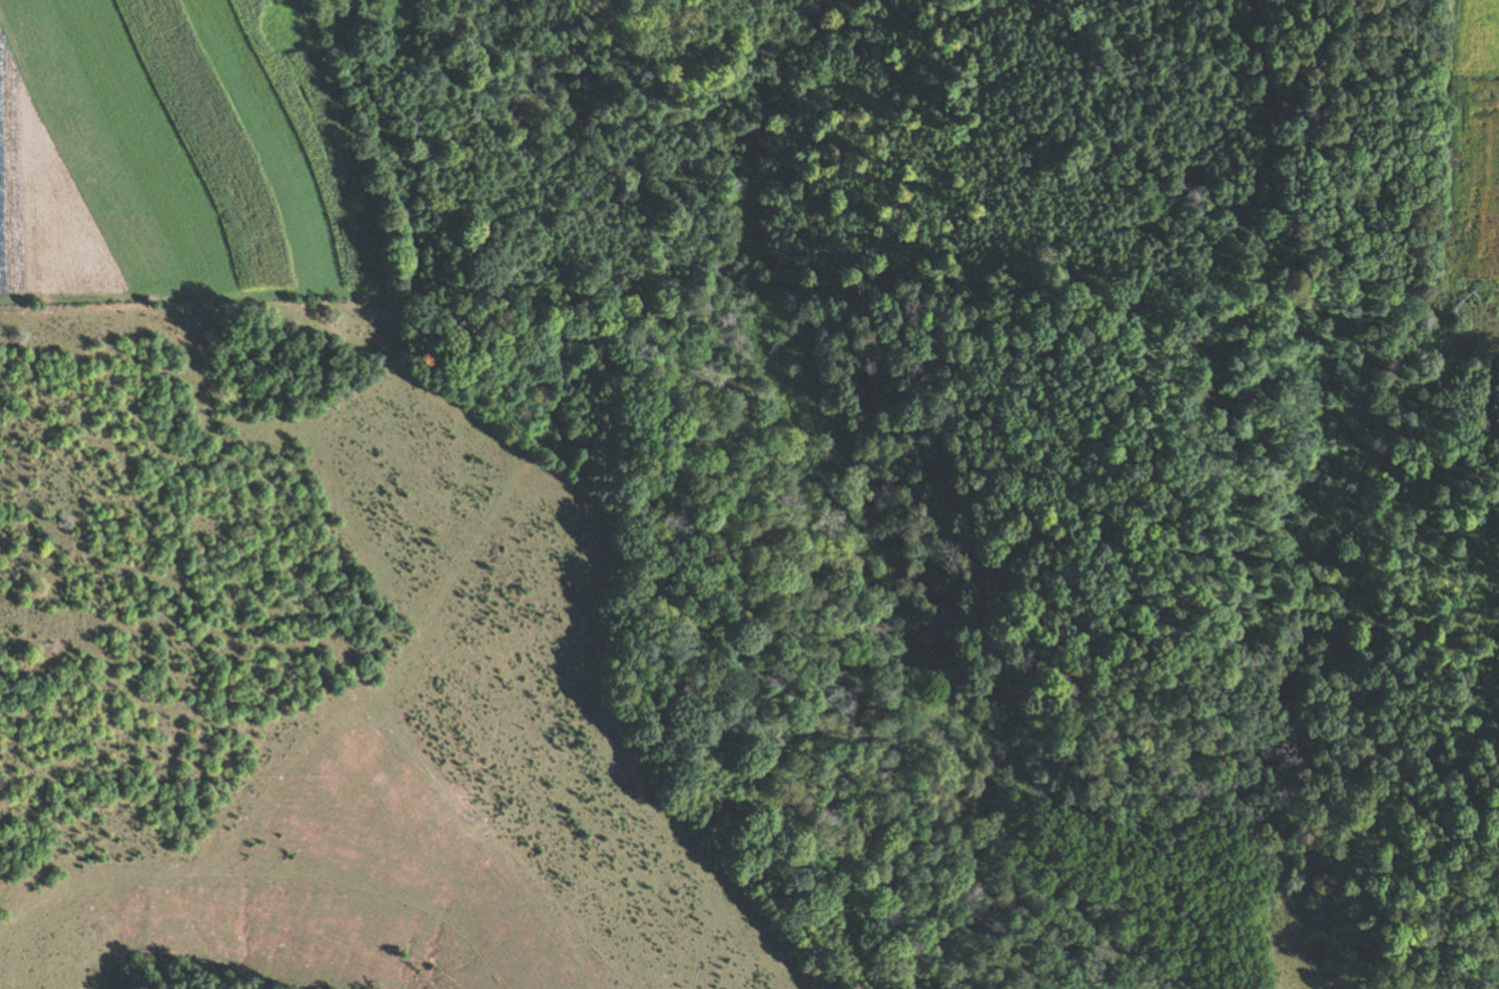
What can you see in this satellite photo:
crop: (1471, 151)
crop: (170, 155)

